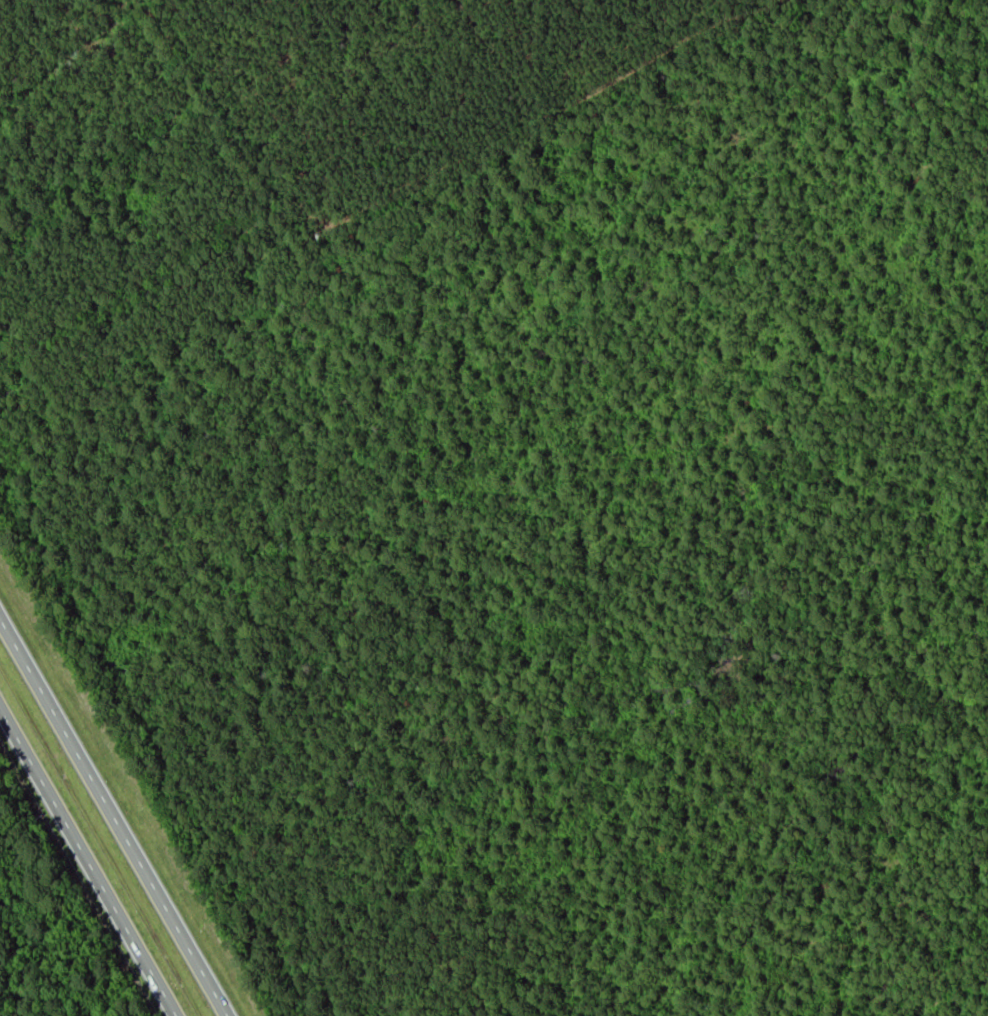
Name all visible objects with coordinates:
road: (112, 819)
road: (88, 862)

